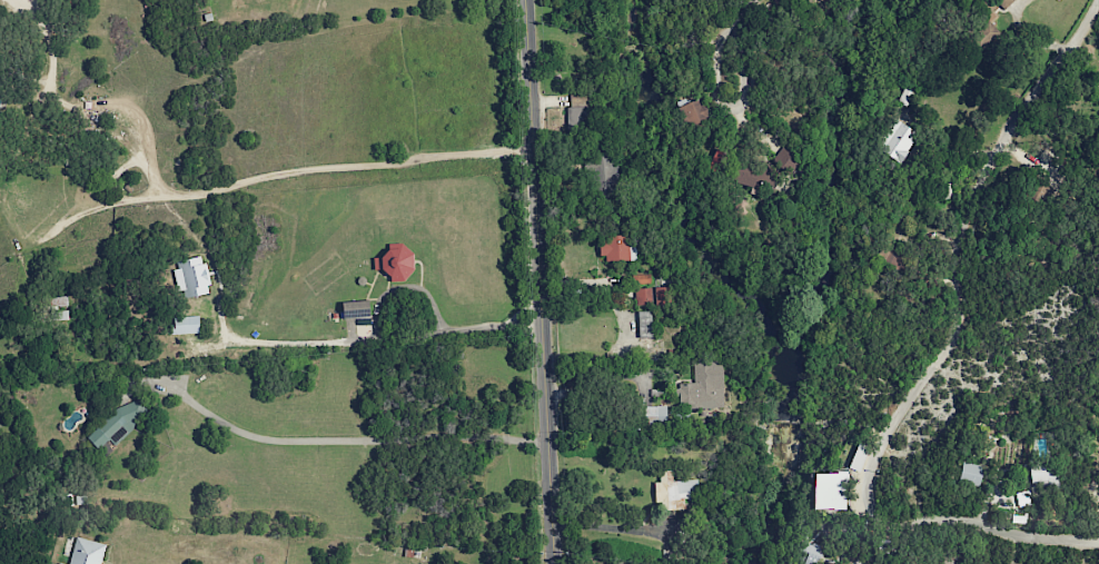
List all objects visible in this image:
building: (821, 0)
road: (750, 11)
building: (982, 37)
building: (905, 93)
building: (577, 99)
road: (87, 105)
road: (730, 109)
building: (692, 112)
building: (580, 119)
building: (895, 140)
building: (786, 159)
building: (600, 174)
road: (283, 176)
building: (752, 177)
building: (947, 190)
building: (617, 248)
building: (394, 264)
building: (190, 276)
road: (541, 278)
building: (641, 279)
building: (642, 296)
building: (661, 296)
building: (60, 301)
building: (355, 309)
road: (622, 324)
building: (643, 324)
building: (186, 325)
road: (367, 338)
road: (940, 363)
building: (703, 386)
building: (654, 415)
building: (118, 424)
road: (352, 441)
building: (970, 473)
building: (1042, 475)
building: (829, 491)
building: (675, 493)
building: (1022, 498)
building: (87, 552)
building: (809, 554)
road: (554, 561)
building: (59, 563)

